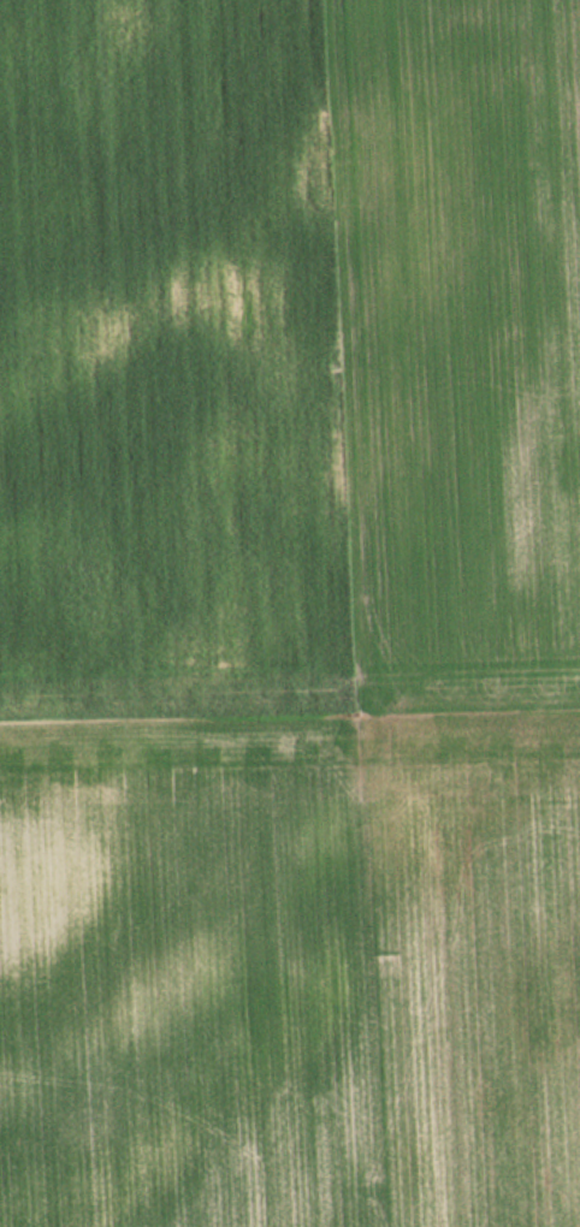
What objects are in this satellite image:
crop: (290, 613)

